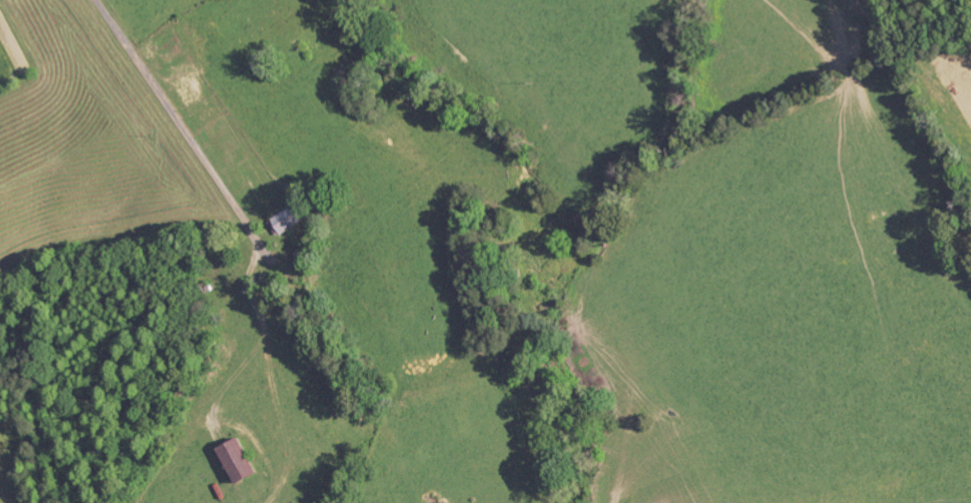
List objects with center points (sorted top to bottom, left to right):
road: (184, 131)
building: (289, 220)
building: (242, 461)

